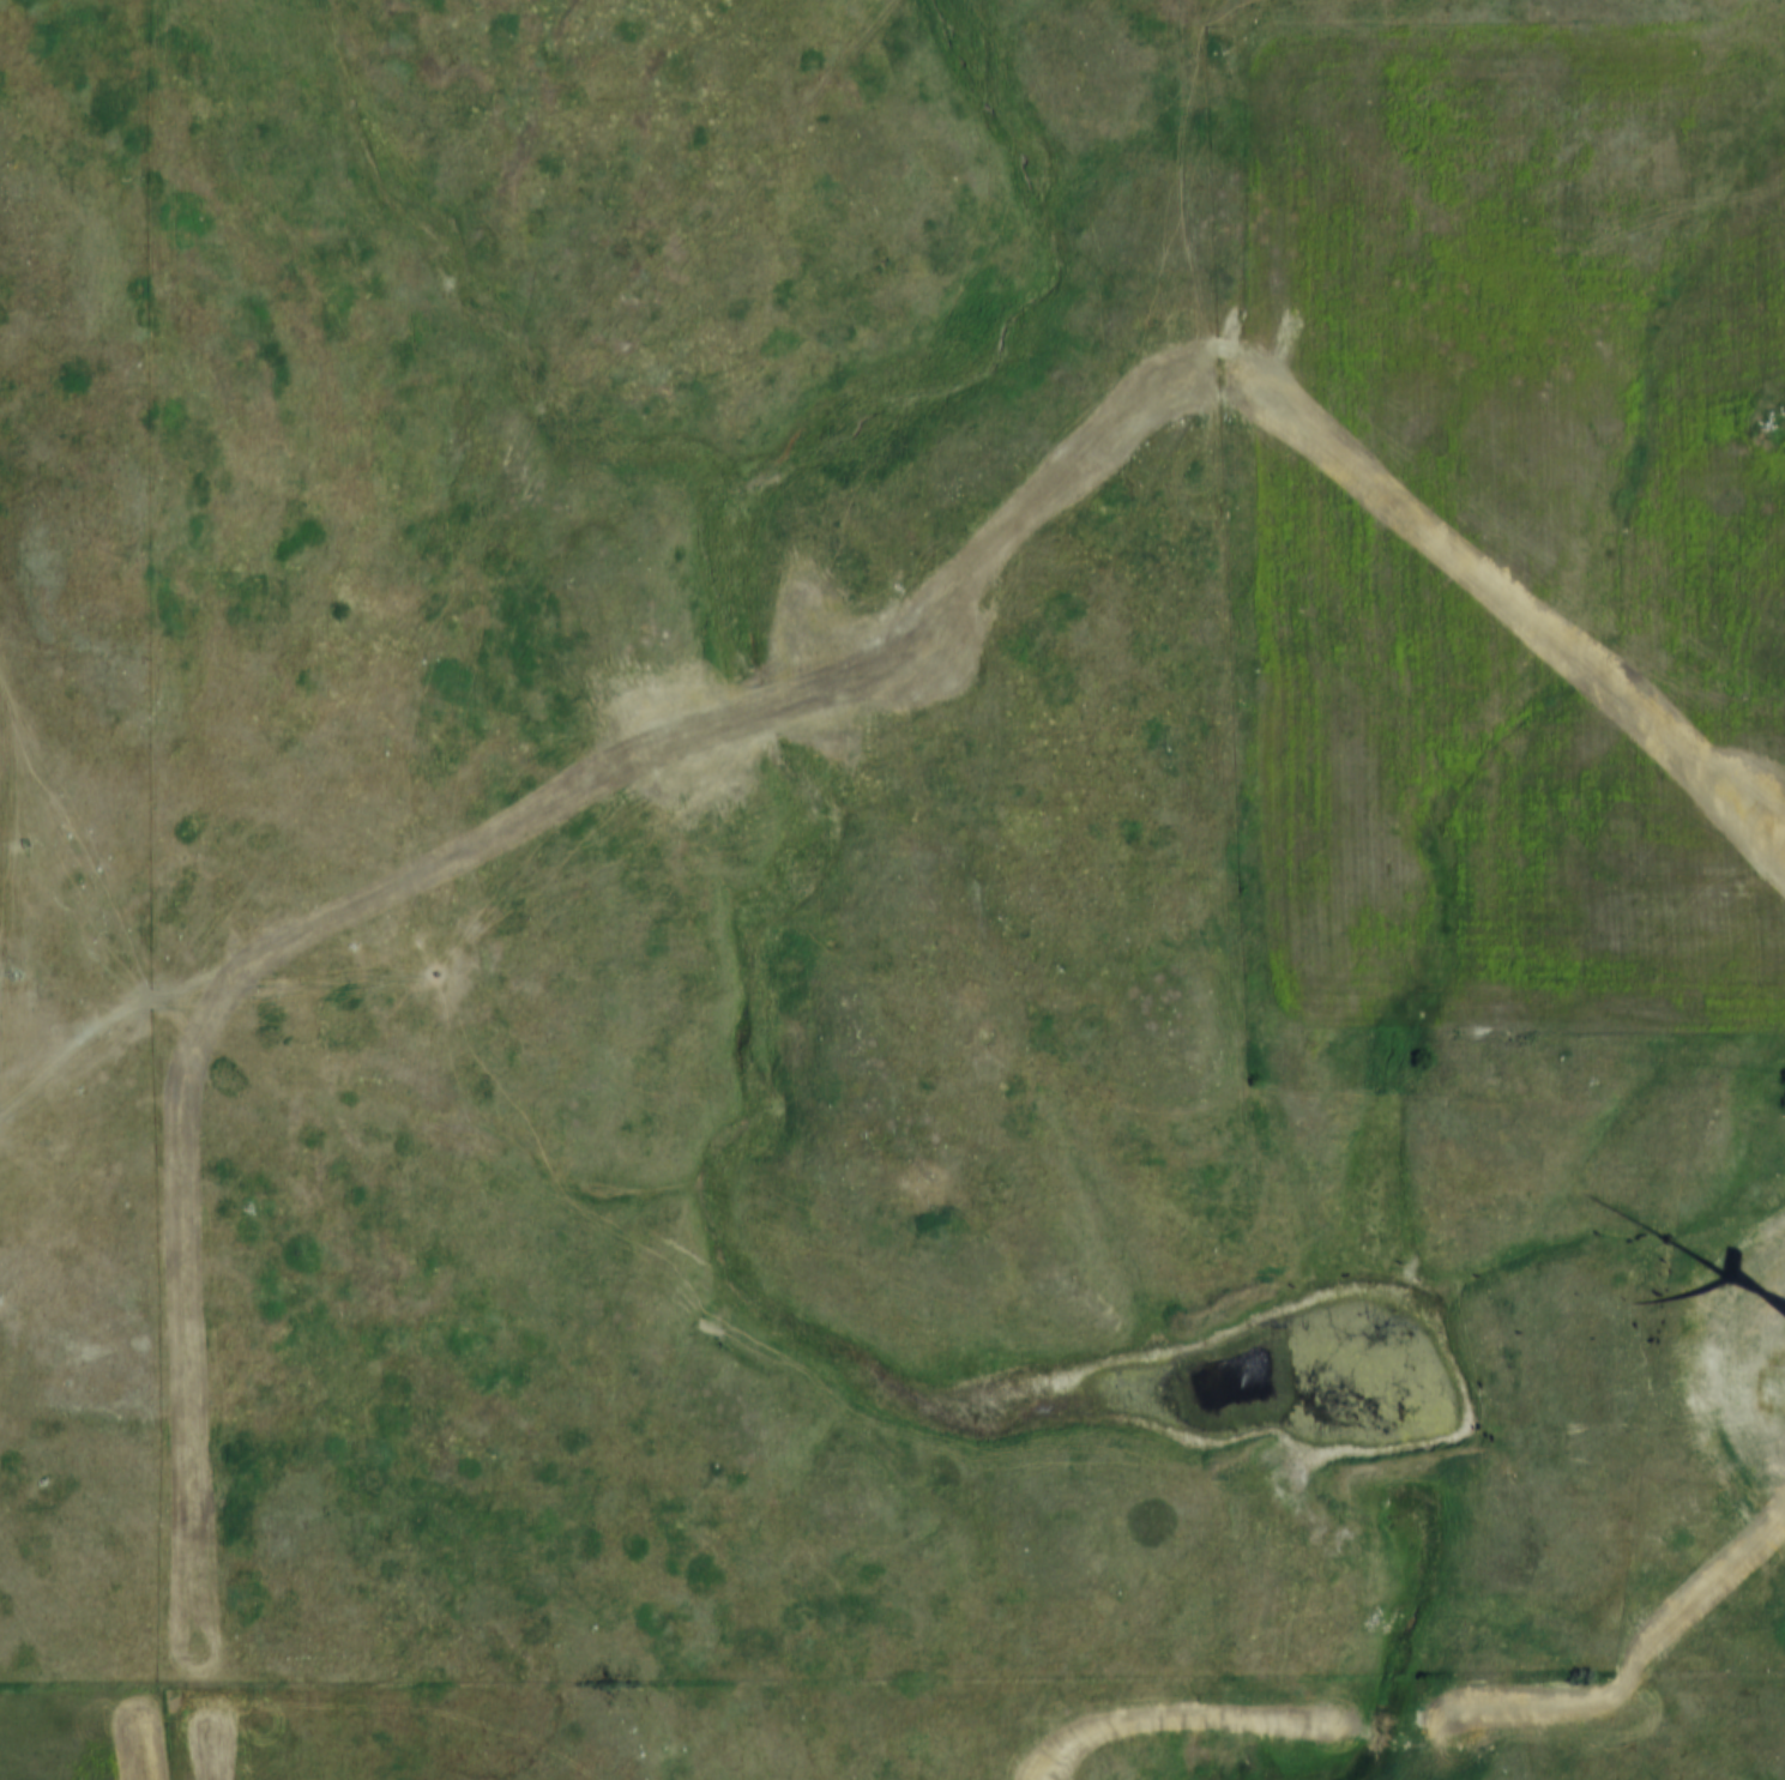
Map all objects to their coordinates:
road: (635, 755)

